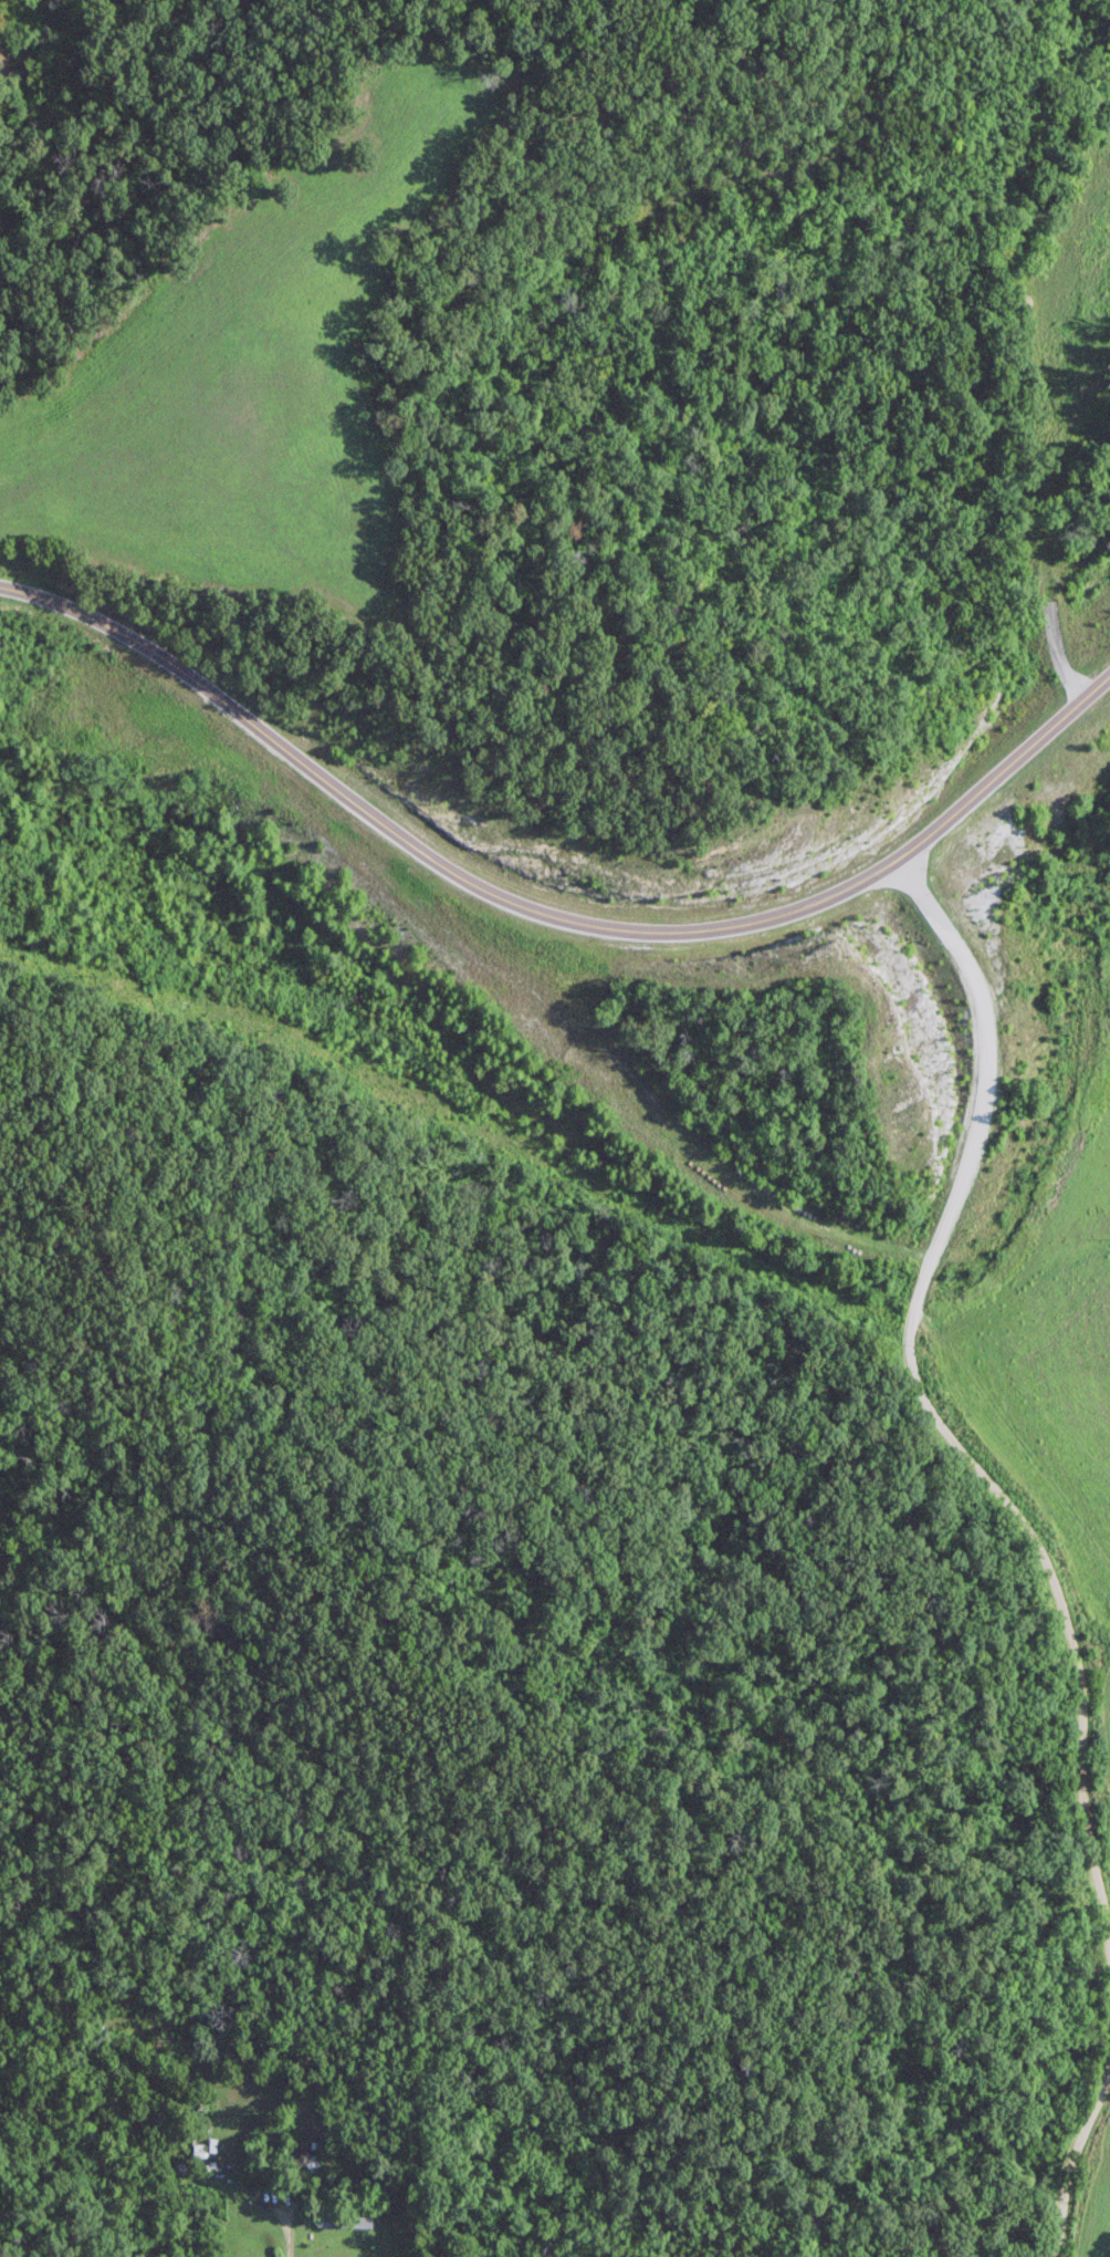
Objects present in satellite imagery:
road: (552, 909)
road: (932, 1382)
road: (1080, 2161)

